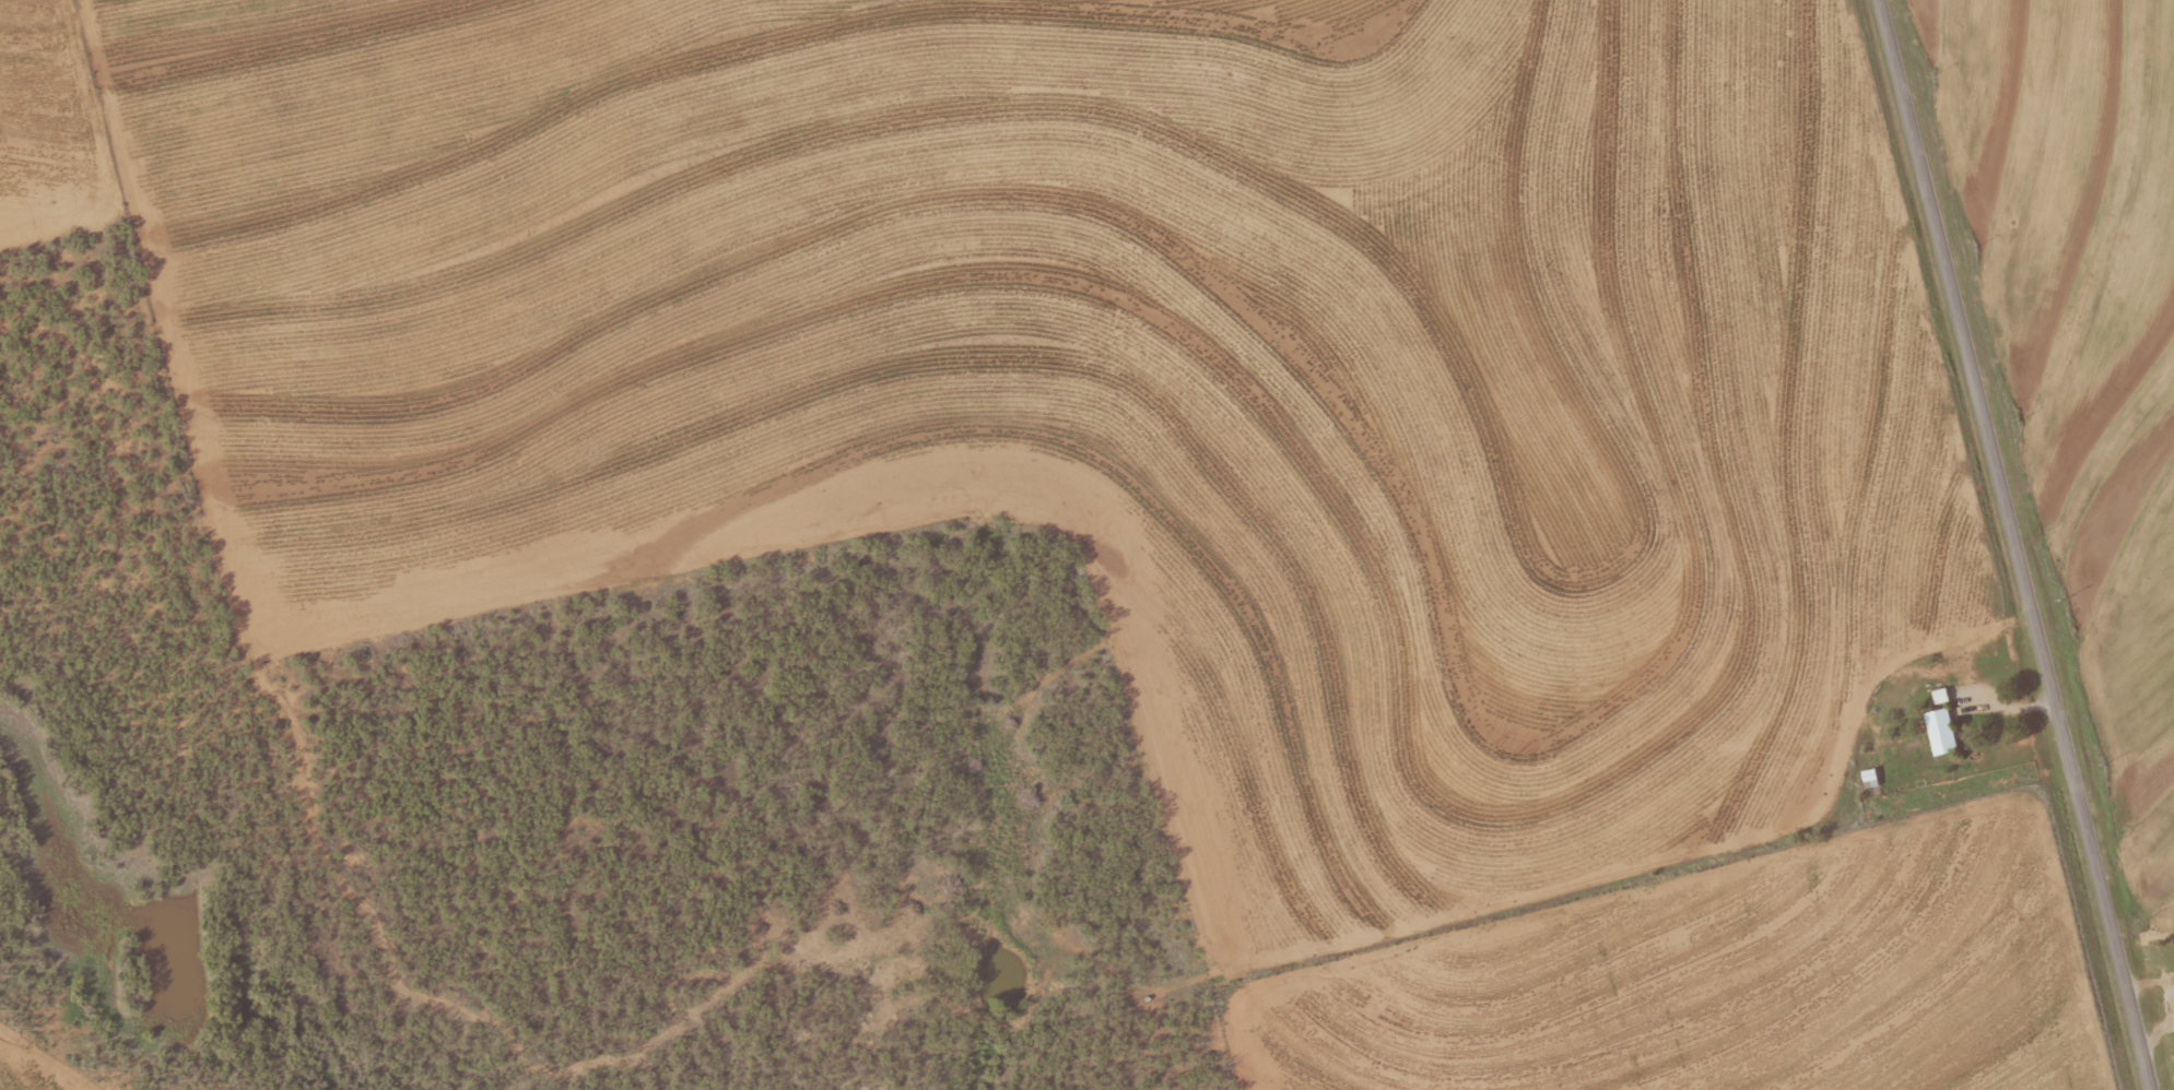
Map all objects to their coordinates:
road: (2011, 545)

